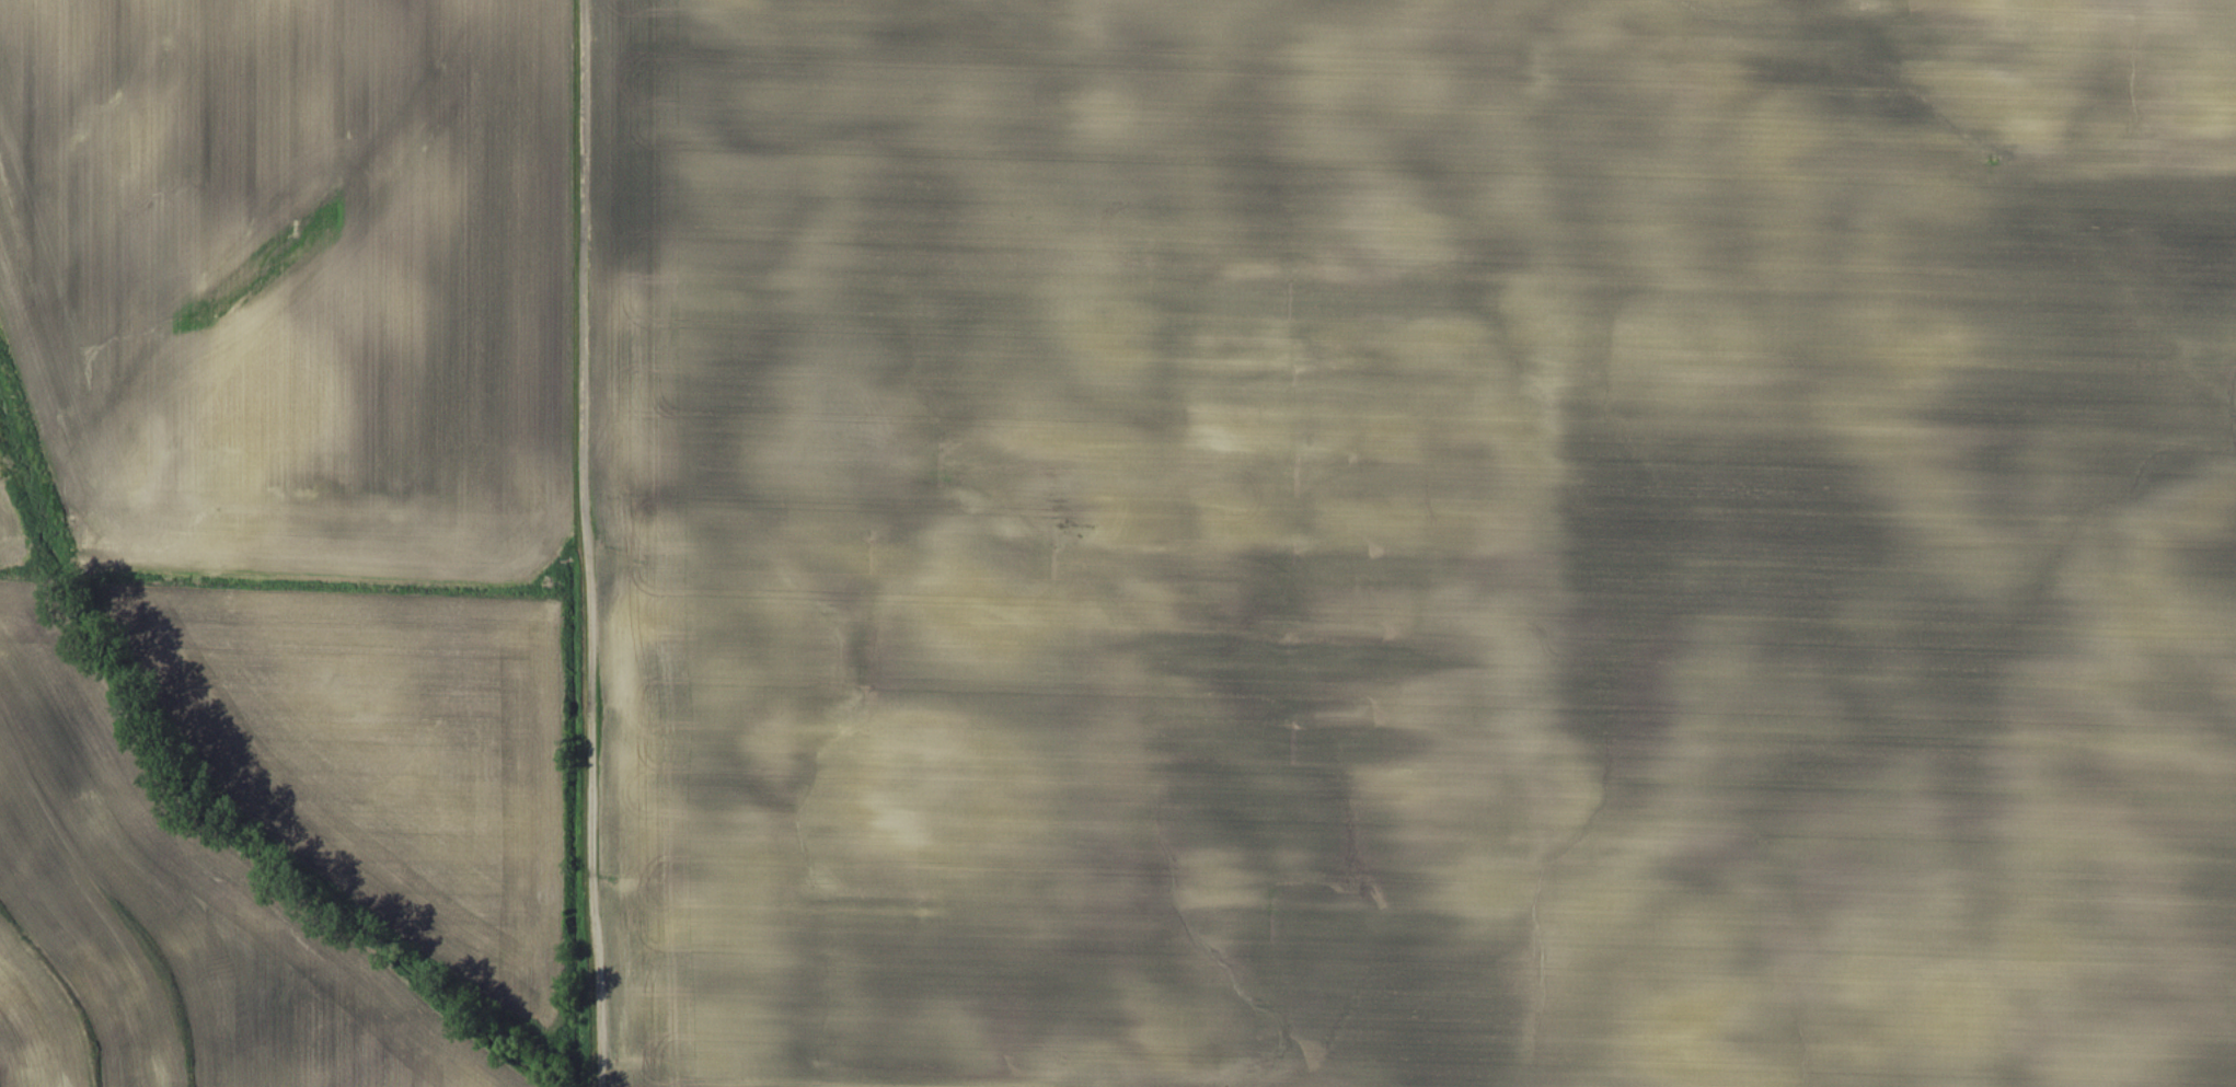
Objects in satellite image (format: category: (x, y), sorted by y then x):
road: (588, 543)

